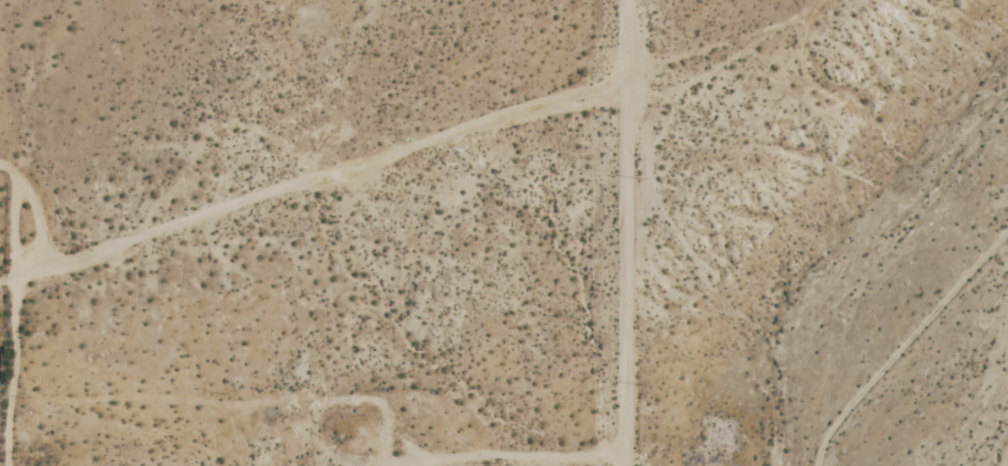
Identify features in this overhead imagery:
road: (230, 205)
road: (631, 232)

